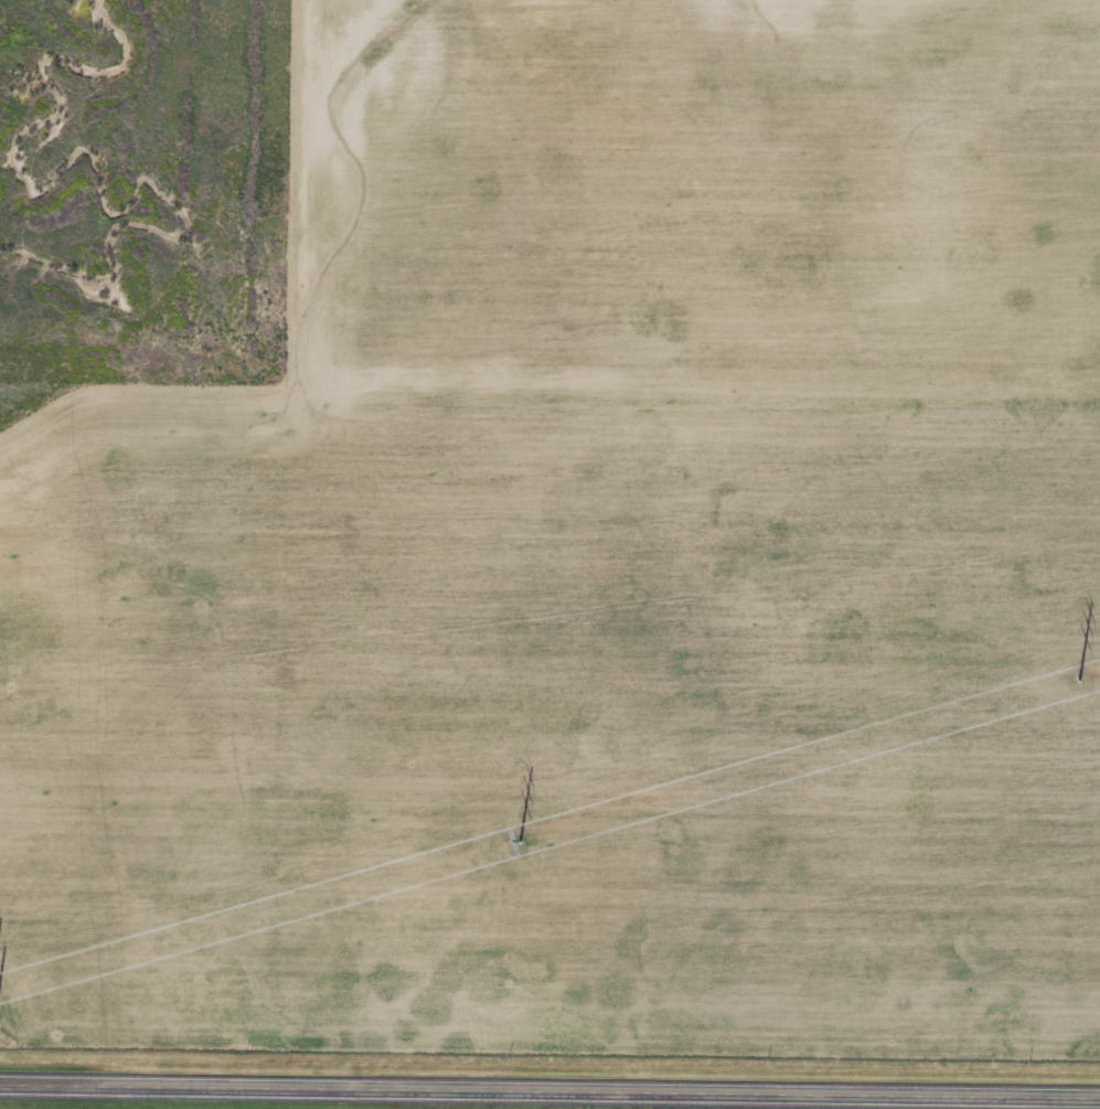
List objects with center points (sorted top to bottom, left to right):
power tower: (1079, 681)
power tower: (520, 841)
road: (549, 1094)

